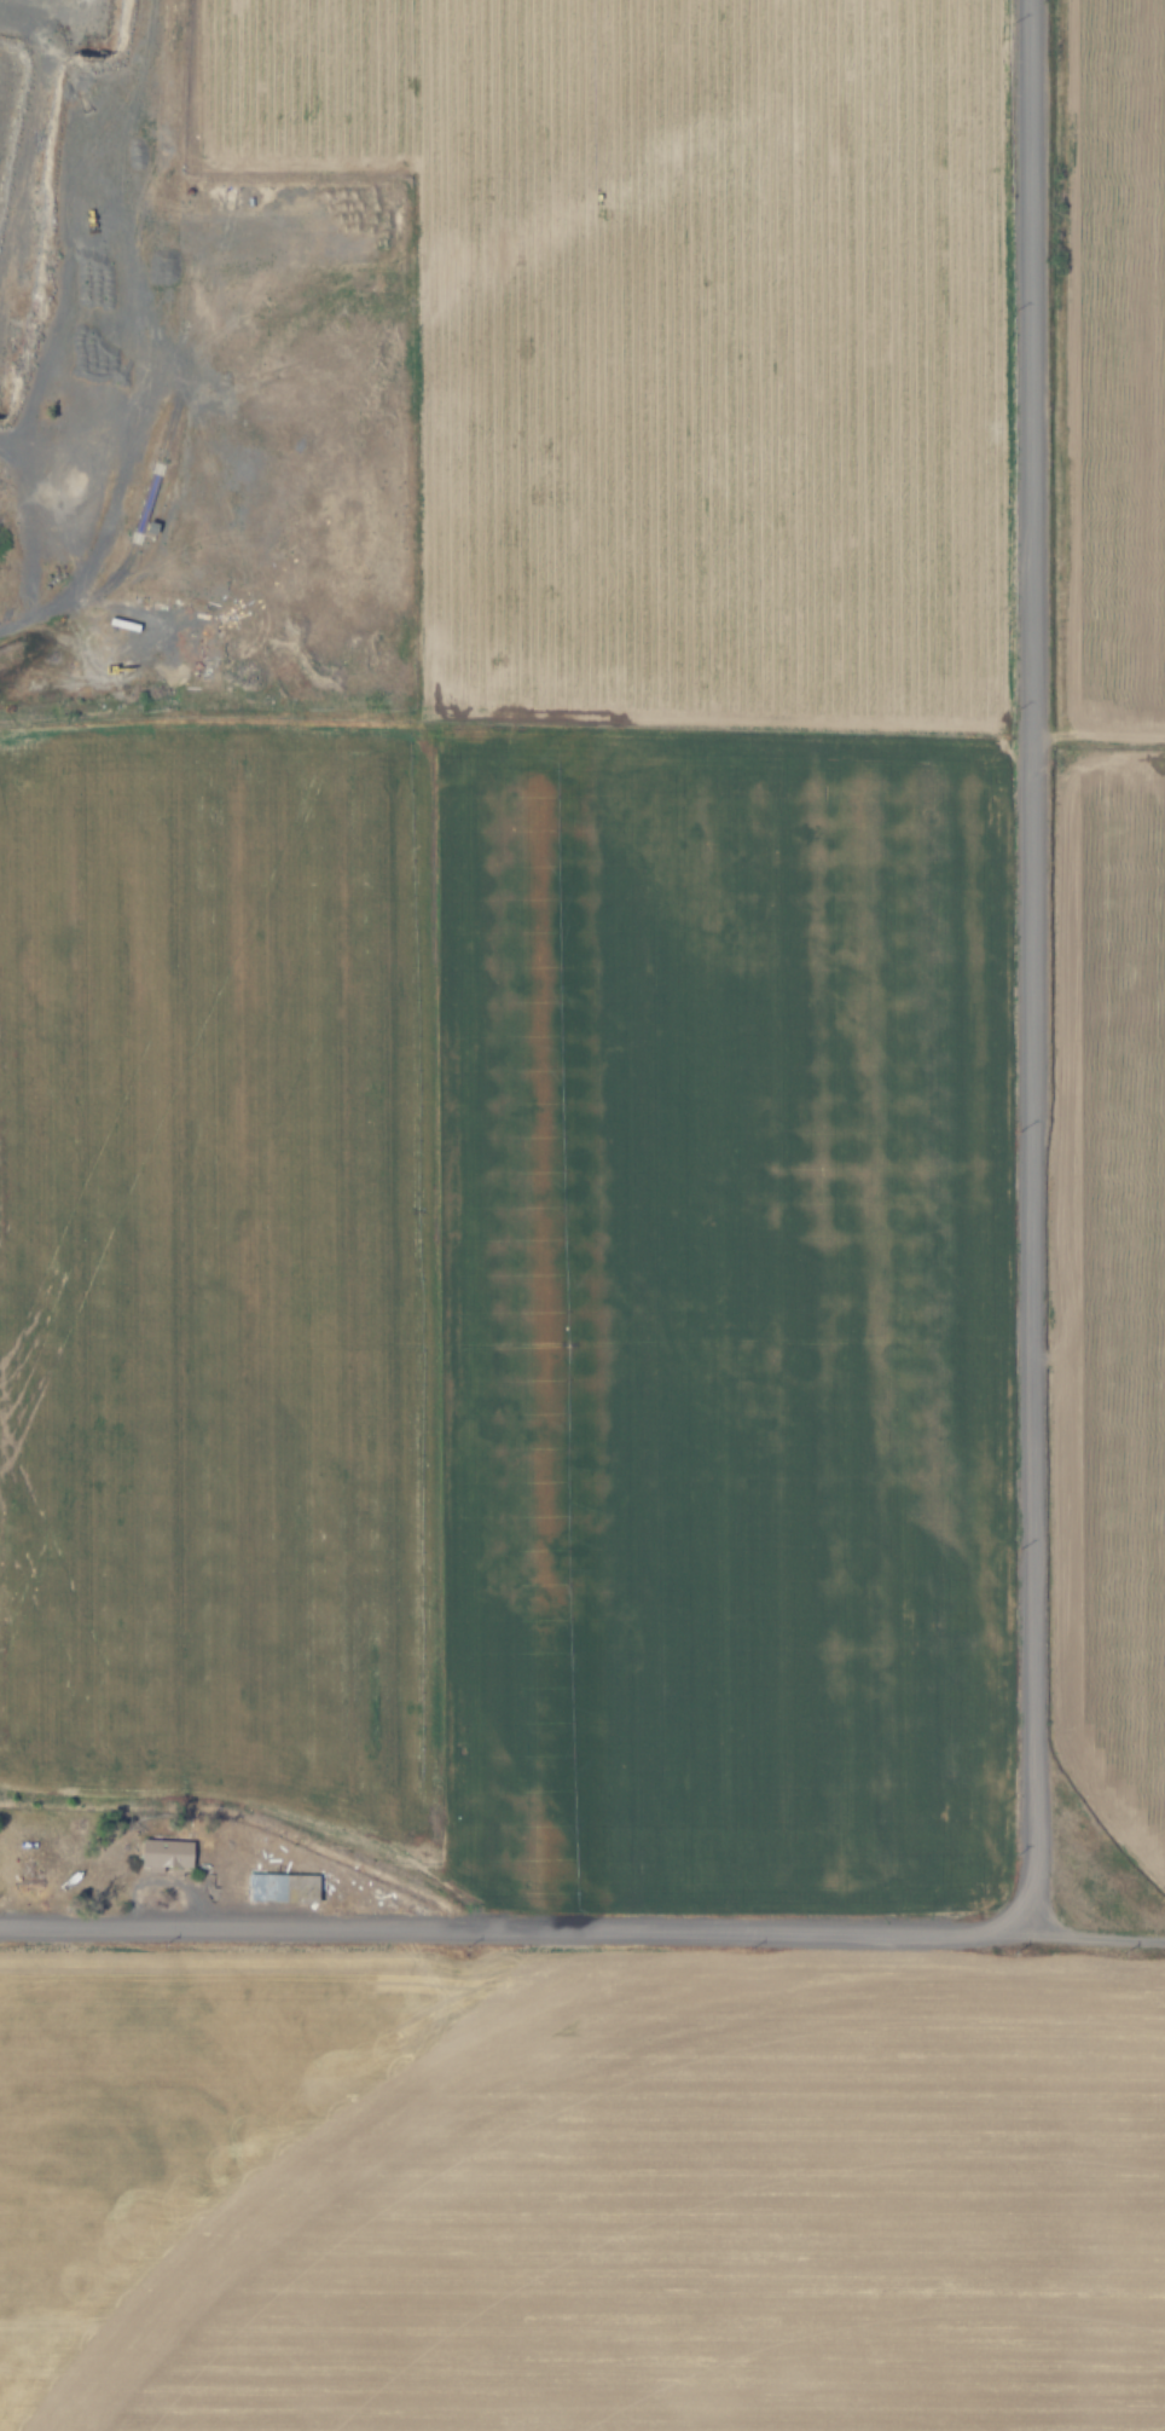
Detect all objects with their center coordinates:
quarry: (189, 409)
road: (39, 610)
road: (1028, 963)
crop: (641, 1011)
building: (166, 1853)
building: (282, 1888)
road: (582, 1928)
crop: (742, 2246)

